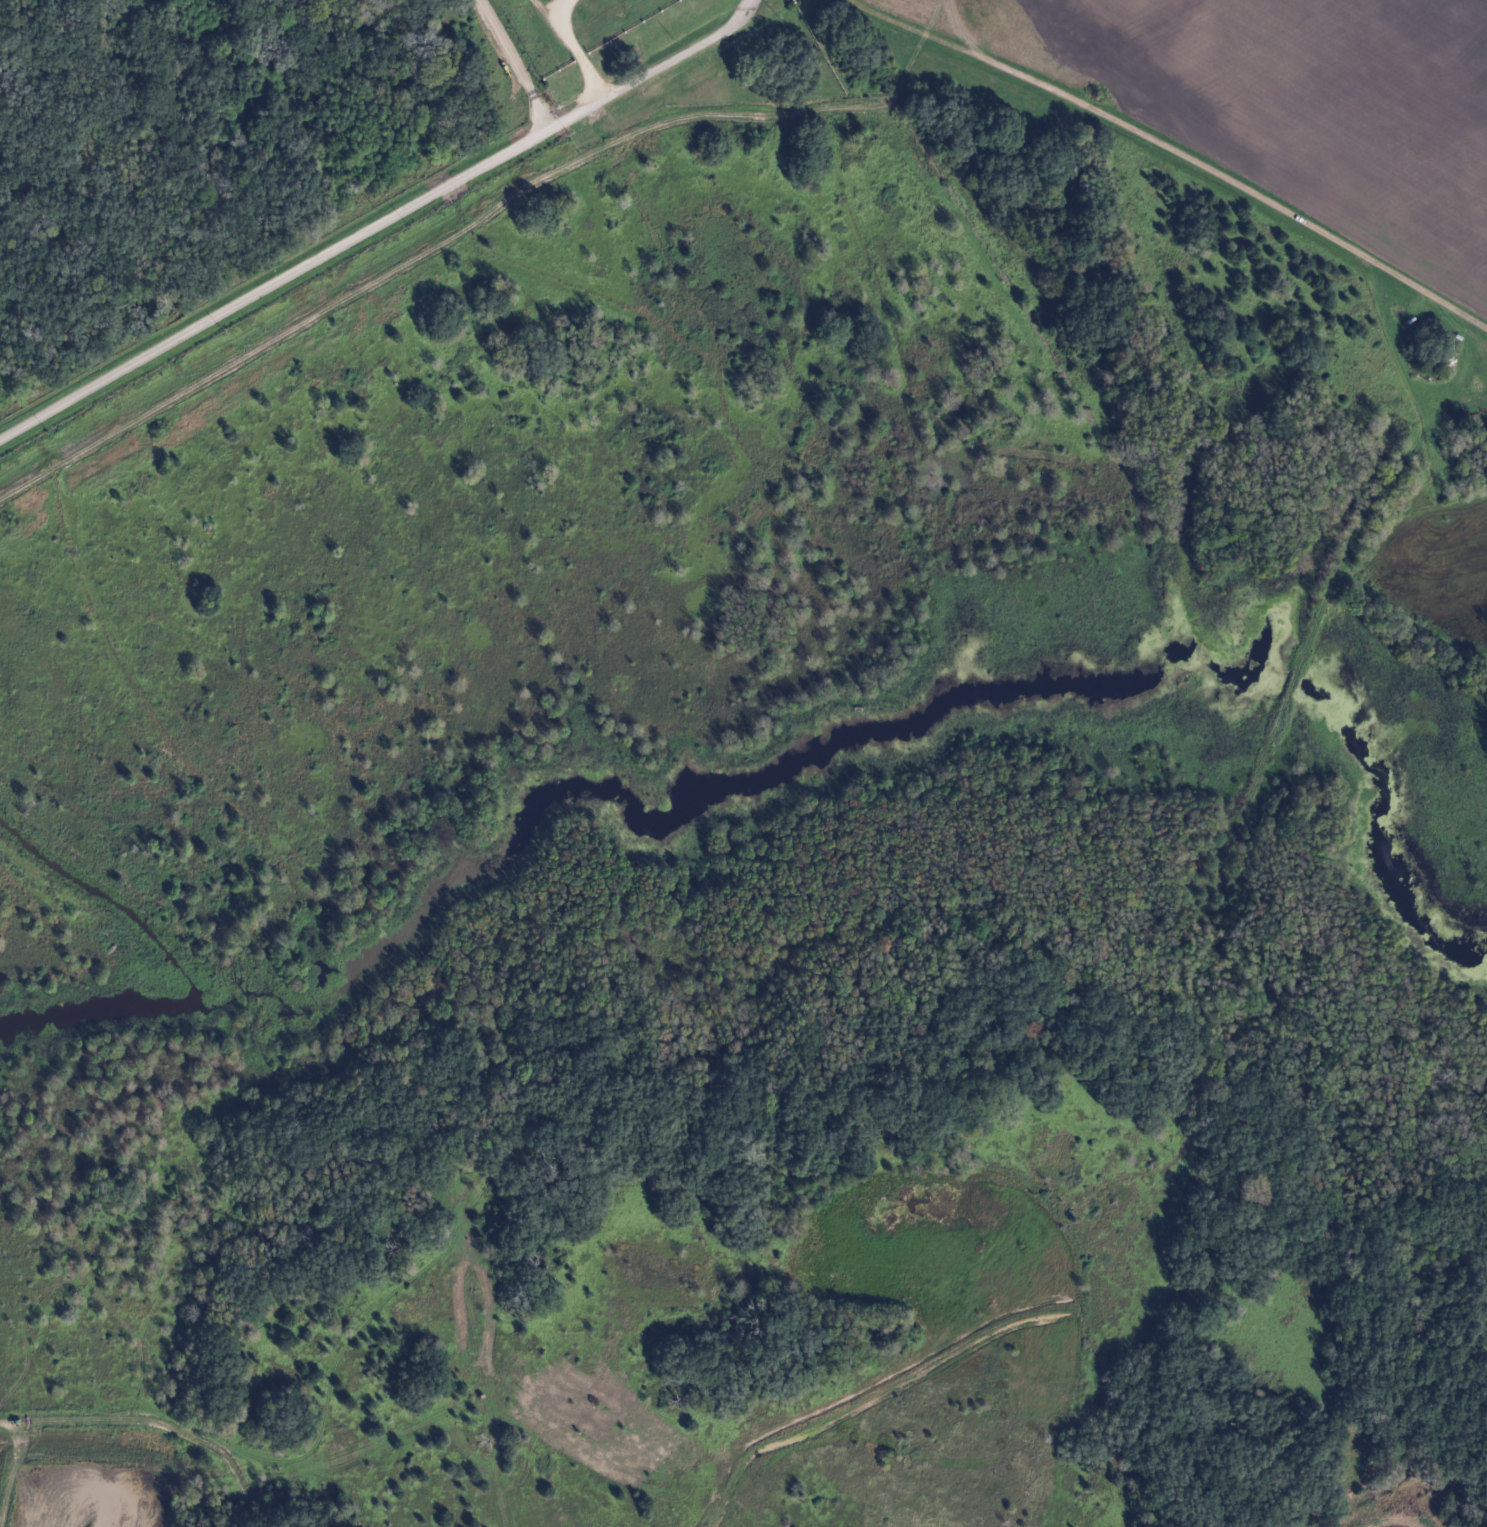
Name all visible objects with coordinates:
road: (512, 63)
road: (661, 63)
road: (1174, 149)
road: (273, 282)
road: (257, 376)

